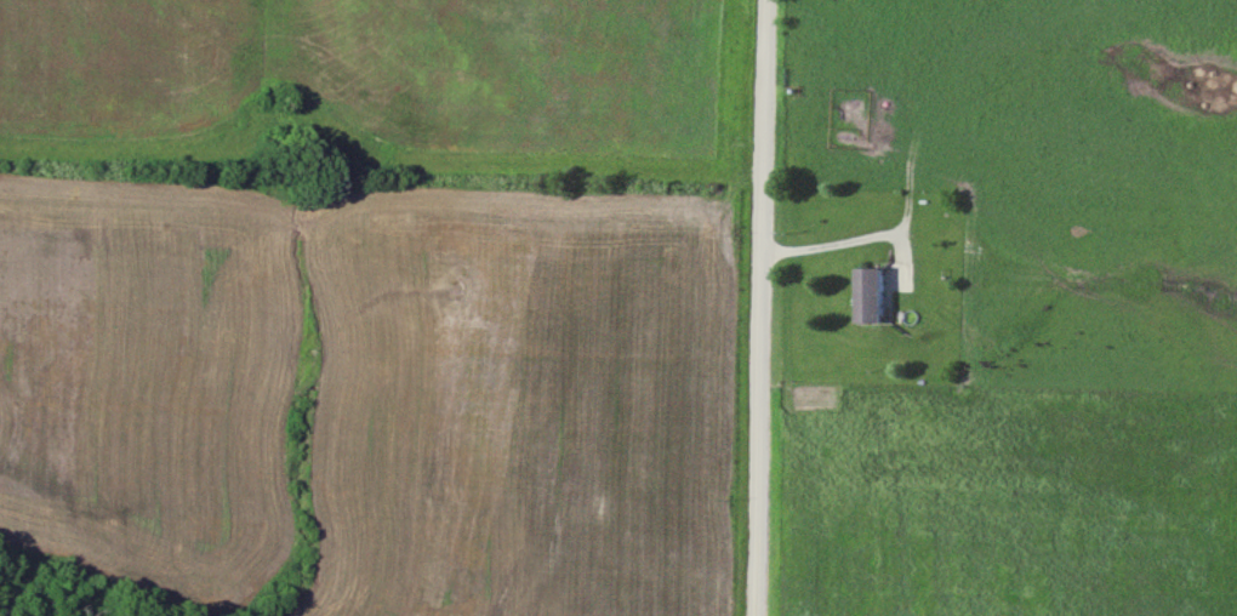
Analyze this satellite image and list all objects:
road: (832, 243)
building: (872, 296)
road: (762, 308)

